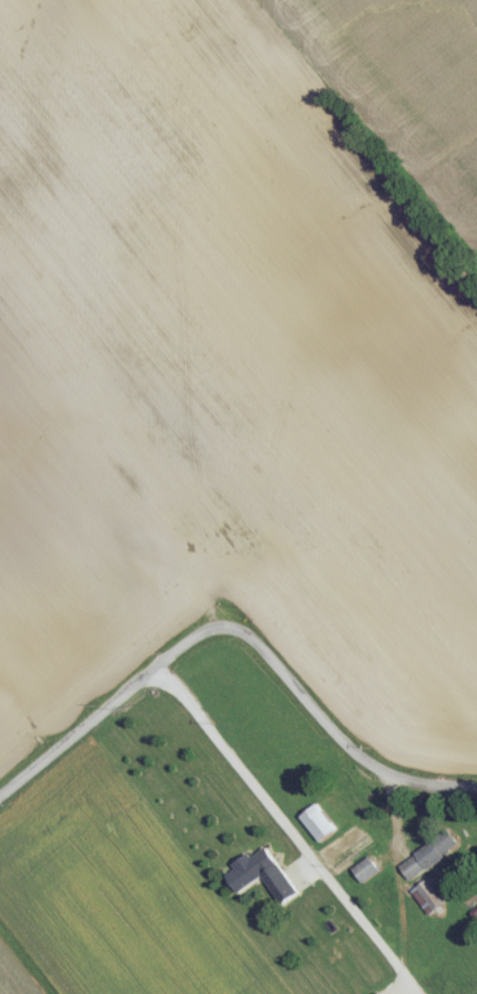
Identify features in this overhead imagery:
road: (111, 709)
road: (336, 744)
building: (319, 829)
road: (279, 835)
building: (430, 862)
building: (253, 876)
building: (366, 876)
building: (428, 903)

